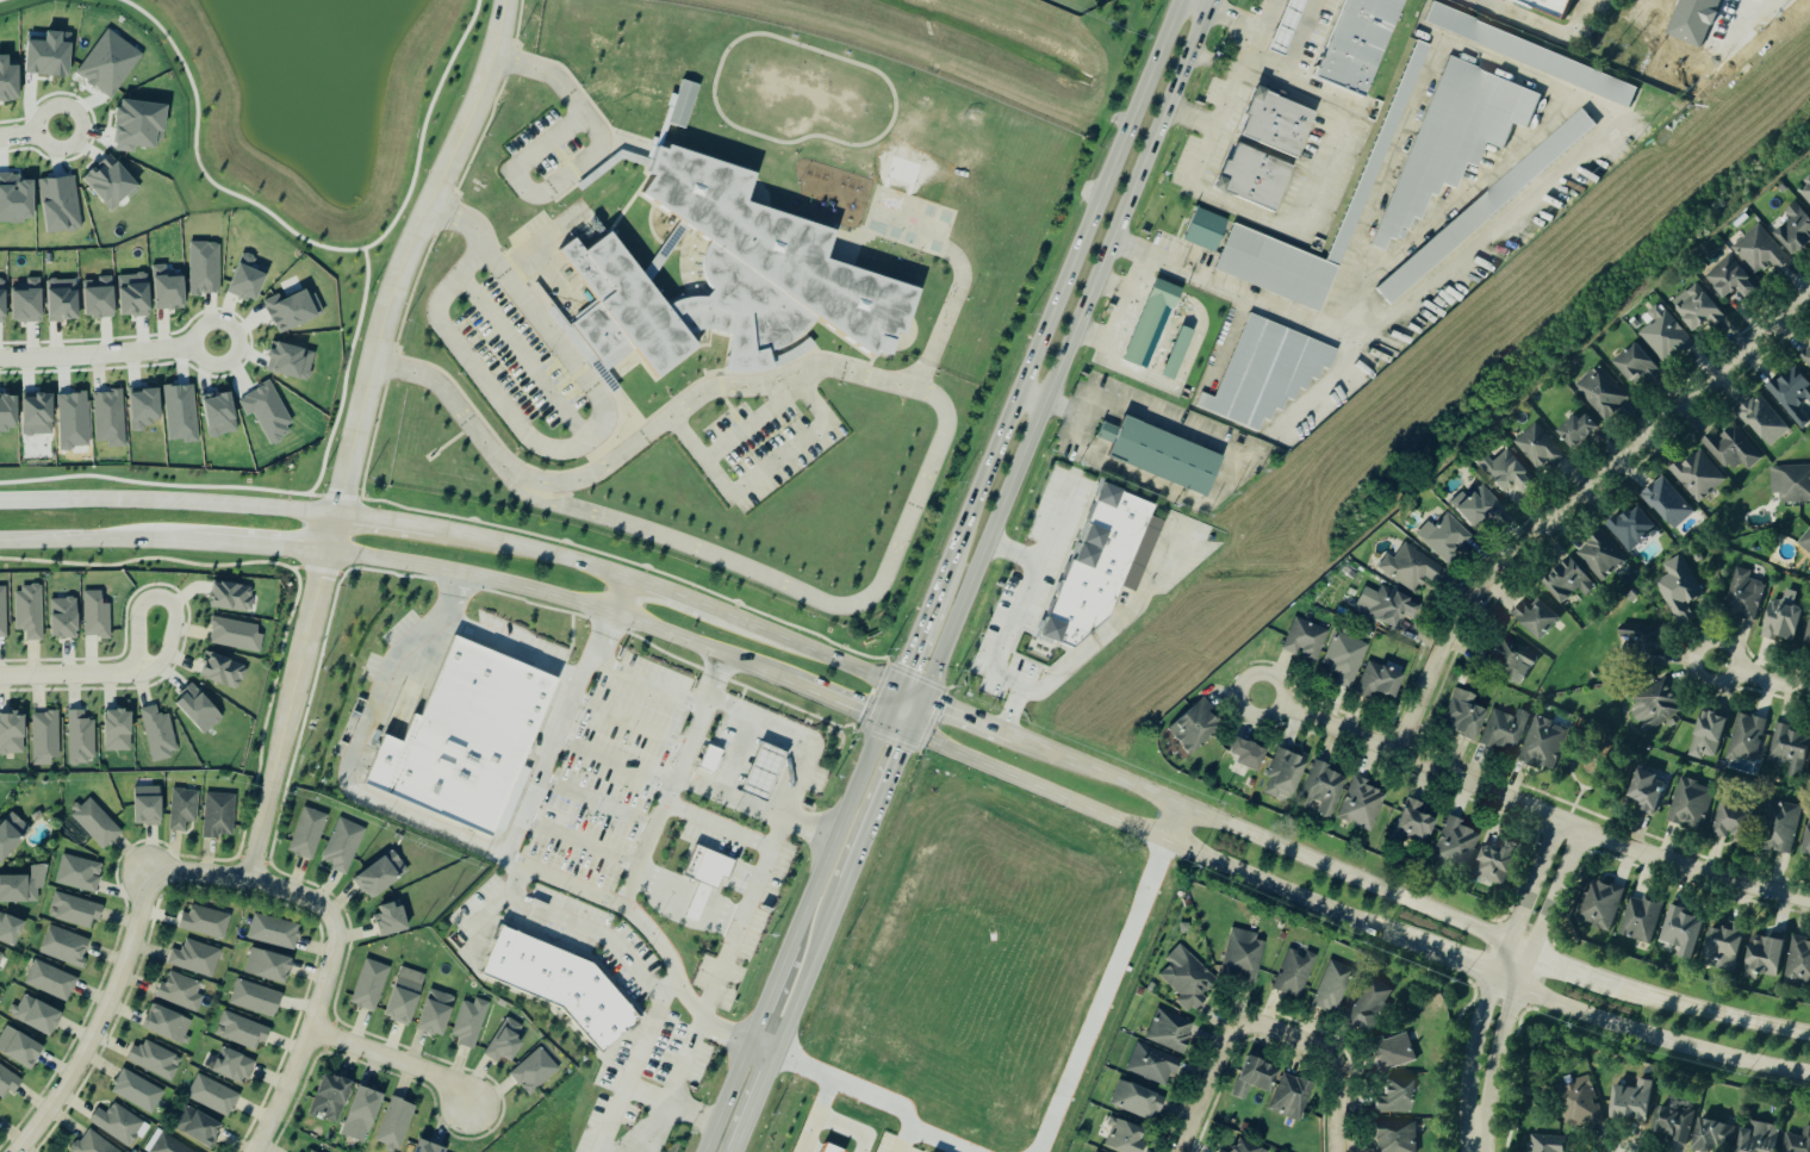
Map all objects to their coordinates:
road: (0, 0)
road: (1476, 1)
road: (1201, 4)
park: (17, 5)
road: (1261, 14)
building: (1692, 20)
building: (1275, 26)
gas station: (1275, 26)
building: (1290, 27)
road: (1541, 29)
building: (1357, 44)
road: (1722, 50)
building: (1528, 55)
road: (1261, 74)
building: (7, 81)
building: (683, 104)
park: (316, 111)
road: (1189, 118)
road: (82, 122)
building: (1391, 123)
building: (1281, 124)
road: (424, 127)
road: (19, 133)
building: (1453, 139)
road: (580, 163)
road: (199, 164)
building: (1257, 179)
road: (1379, 179)
building: (111, 185)
building: (1805, 191)
road: (1461, 194)
building: (1357, 203)
building: (61, 205)
building: (1484, 207)
road: (459, 223)
road: (1275, 223)
building: (1796, 229)
building: (1203, 230)
road: (1486, 232)
building: (1761, 251)
building: (1275, 268)
building: (205, 269)
road: (406, 273)
building: (1733, 279)
building: (248, 280)
building: (721, 282)
road: (1112, 286)
building: (168, 289)
building: (135, 295)
road: (1126, 297)
building: (100, 298)
road: (1058, 298)
building: (63, 300)
building: (29, 301)
building: (2, 303)
building: (1698, 310)
building: (292, 311)
road: (222, 320)
building: (1149, 320)
building: (1665, 335)
road: (1226, 337)
road: (97, 350)
road: (1065, 350)
building: (1175, 354)
road: (525, 357)
building: (1806, 359)
building: (291, 361)
building: (1638, 365)
building: (1265, 373)
road: (346, 374)
road: (1333, 382)
building: (1601, 393)
building: (1792, 396)
road: (1032, 399)
road: (456, 403)
road: (1081, 416)
building: (110, 418)
building: (1762, 419)
road: (754, 423)
road: (1080, 428)
building: (1580, 430)
building: (1541, 448)
building: (1733, 449)
road: (560, 454)
building: (1158, 456)
road: (933, 467)
road: (765, 471)
building: (1507, 473)
building: (1698, 475)
building: (1791, 482)
road: (1574, 497)
building: (1668, 502)
road: (166, 504)
building: (1480, 509)
road: (1052, 518)
road: (367, 521)
building: (1632, 528)
road: (419, 529)
building: (1445, 538)
road: (97, 541)
building: (1805, 541)
road: (259, 549)
road: (529, 552)
building: (1601, 555)
building: (1095, 567)
building: (1412, 569)
building: (1569, 581)
building: (1680, 589)
road: (1143, 592)
road: (452, 594)
building: (1743, 594)
building: (231, 597)
road: (616, 597)
road: (673, 597)
road: (163, 599)
road: (556, 599)
building: (1388, 606)
building: (29, 611)
building: (2, 614)
building: (95, 615)
building: (64, 617)
building: (1535, 618)
building: (1785, 618)
road: (1006, 629)
building: (1808, 631)
building: (235, 634)
building: (1642, 637)
building: (1305, 641)
road: (914, 645)
road: (515, 646)
road: (809, 654)
building: (1344, 659)
building: (1514, 659)
building: (223, 671)
road: (68, 673)
road: (1762, 674)
road: (652, 679)
building: (1380, 681)
traffic signals: (895, 691)
road: (908, 696)
road: (832, 700)
traffic signals: (921, 702)
building: (1657, 704)
road: (889, 705)
building: (199, 708)
road: (286, 716)
road: (915, 716)
building: (1467, 716)
road: (966, 720)
traffic signals: (883, 721)
building: (1198, 726)
road: (778, 727)
building: (118, 730)
building: (1505, 730)
traffic signals: (910, 731)
building: (12, 733)
building: (157, 734)
building: (1710, 735)
building: (45, 737)
building: (80, 737)
building: (1747, 737)
building: (471, 739)
building: (1544, 742)
building: (1790, 751)
building: (1250, 754)
building: (713, 759)
building: (763, 771)
park: (1591, 772)
road: (350, 773)
building: (1286, 773)
road: (891, 778)
building: (1324, 787)
building: (1650, 789)
road: (732, 796)
building: (1691, 802)
building: (1362, 804)
building: (149, 805)
road: (1532, 807)
building: (184, 808)
building: (219, 815)
building: (36, 816)
building: (1733, 821)
building: (95, 823)
building: (1416, 823)
building: (1783, 824)
road: (1175, 826)
road: (838, 829)
building: (307, 833)
road: (1149, 833)
building: (11, 834)
building: (1456, 841)
road: (1259, 842)
building: (342, 845)
building: (1809, 845)
road: (646, 853)
road: (860, 853)
building: (1499, 863)
building: (710, 868)
building: (79, 873)
building: (381, 874)
road: (237, 877)
road: (1534, 879)
road: (566, 884)
building: (23, 885)
road: (515, 885)
road: (754, 888)
road: (1556, 889)
building: (699, 903)
building: (1603, 904)
building: (74, 910)
building: (392, 919)
building: (1641, 919)
building: (205, 921)
building: (10, 929)
building: (1683, 930)
building: (274, 932)
building: (1727, 945)
building: (64, 946)
building: (1768, 953)
building: (1, 955)
building: (1244, 955)
building: (194, 958)
building: (1799, 960)
road: (1563, 964)
building: (268, 965)
road: (815, 966)
road: (1467, 967)
building: (1294, 973)
building: (1186, 978)
building: (51, 980)
building: (369, 984)
building: (564, 984)
building: (1332, 986)
road: (771, 988)
building: (180, 991)
building: (406, 996)
road: (1107, 997)
building: (255, 998)
building: (1369, 1005)
building: (436, 1013)
road: (1712, 1014)
building: (37, 1015)
road: (105, 1017)
building: (469, 1021)
building: (167, 1023)
building: (242, 1030)
road: (306, 1030)
building: (1170, 1030)
road: (1662, 1038)
building: (504, 1041)
road: (766, 1044)
road: (1474, 1044)
building: (19, 1046)
road: (1500, 1050)
building: (1394, 1052)
building: (155, 1060)
road: (391, 1060)
building: (1153, 1064)
road: (1337, 1064)
building: (234, 1065)
building: (535, 1071)
road: (630, 1072)
building: (1256, 1077)
road: (677, 1081)
building: (8, 1082)
road: (1214, 1084)
building: (137, 1091)
building: (213, 1095)
road: (727, 1095)
building: (331, 1096)
building: (1292, 1097)
building: (1399, 1097)
road: (873, 1098)
road: (759, 1101)
building: (1138, 1101)
building: (1634, 1101)
building: (1580, 1102)
building: (363, 1114)
road: (821, 1117)
building: (1675, 1121)
building: (396, 1123)
building: (119, 1125)
building: (199, 1127)
road: (647, 1128)
building: (1398, 1135)
building: (1715, 1135)
building: (1126, 1137)
building: (1761, 1137)
road: (907, 1141)
building: (1798, 1141)
building: (1548, 1142)
building: (92, 1144)
building: (168, 1145)
building: (428, 1146)
building: (1249, 1147)
building: (828, 1148)
road: (1622, 1150)
building: (310, 1151)
building: (1221, 1151)

